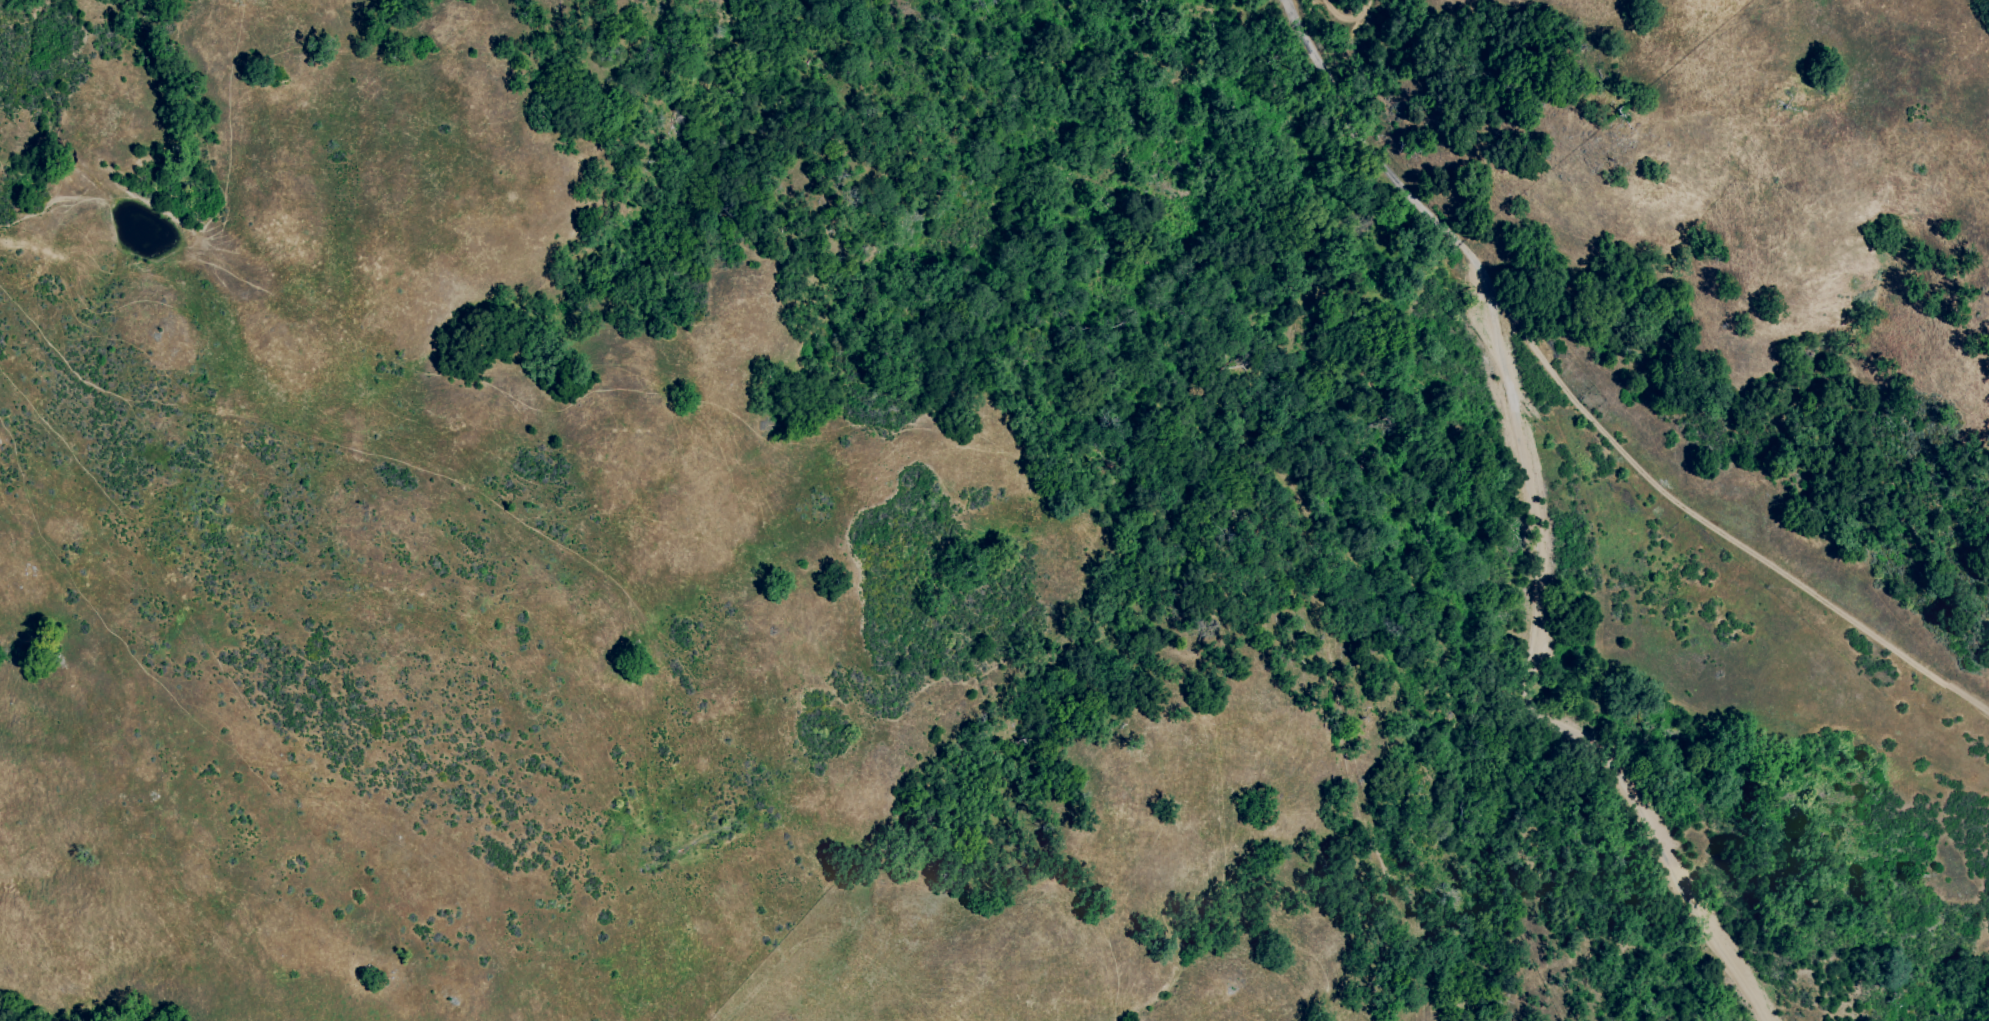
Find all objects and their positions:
road: (1536, 512)
road: (1714, 515)

